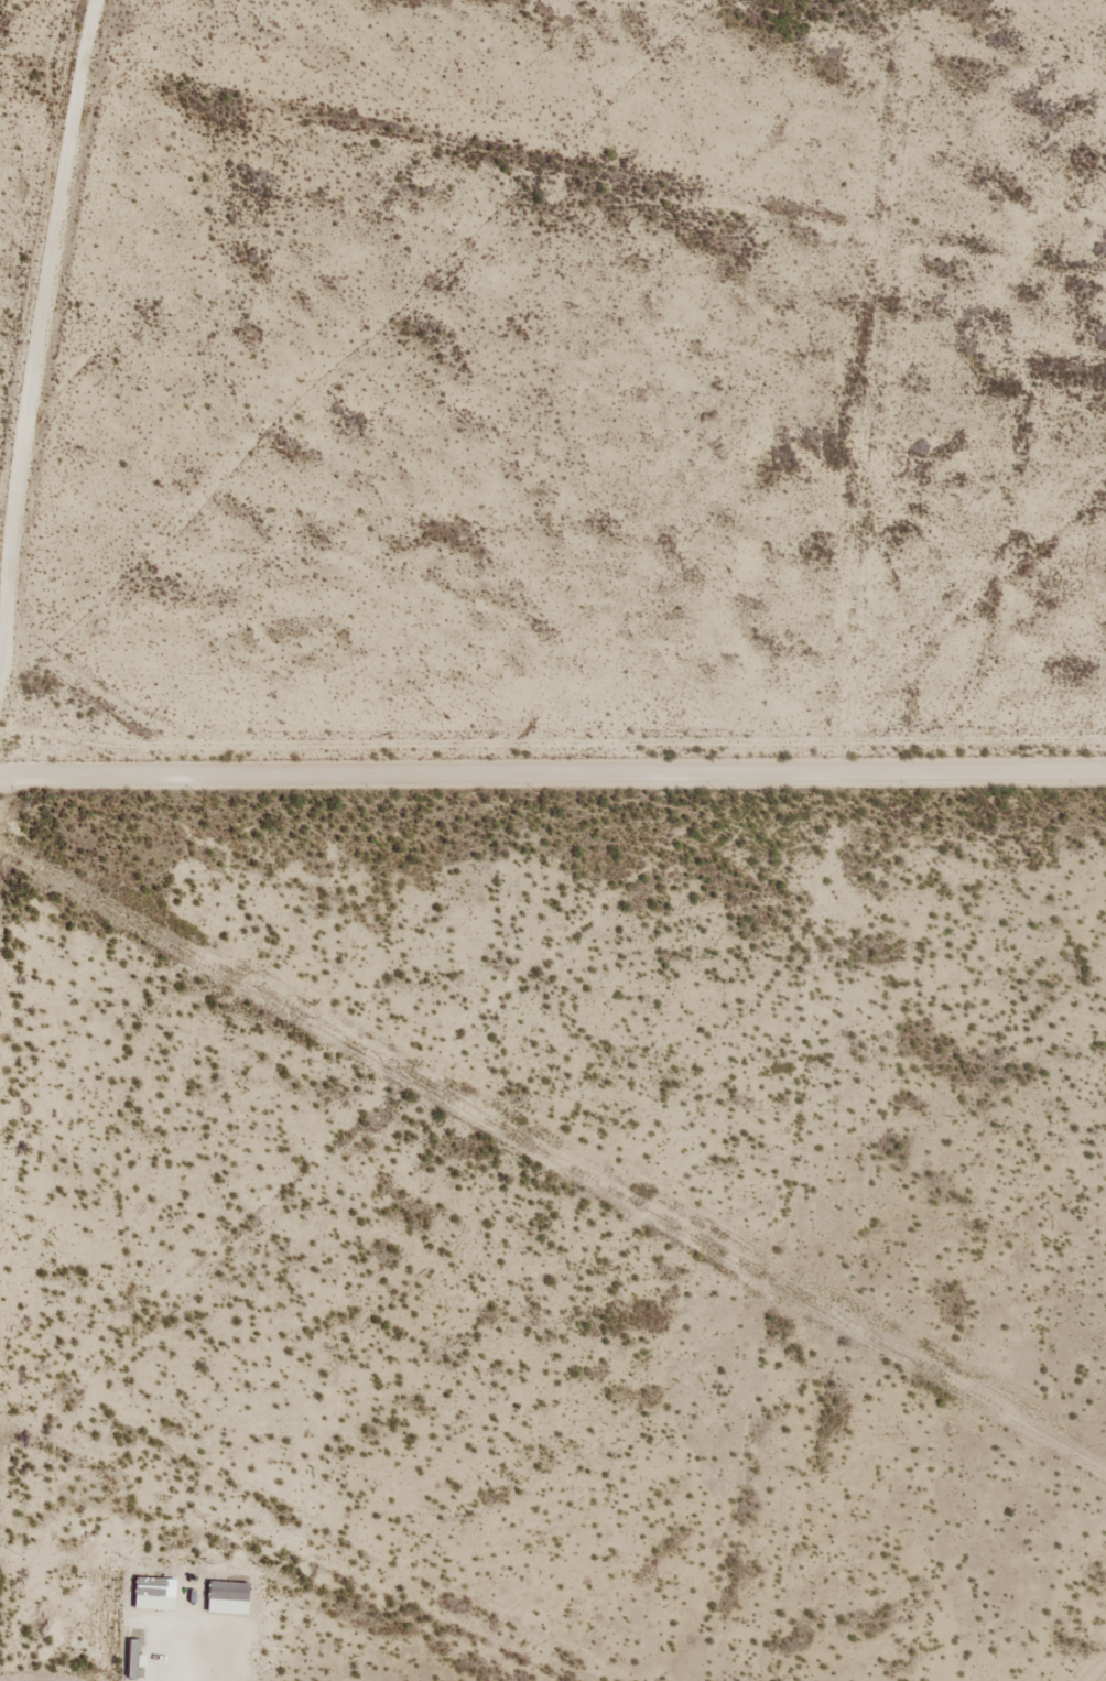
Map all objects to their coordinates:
road: (28, 214)
road: (551, 704)

